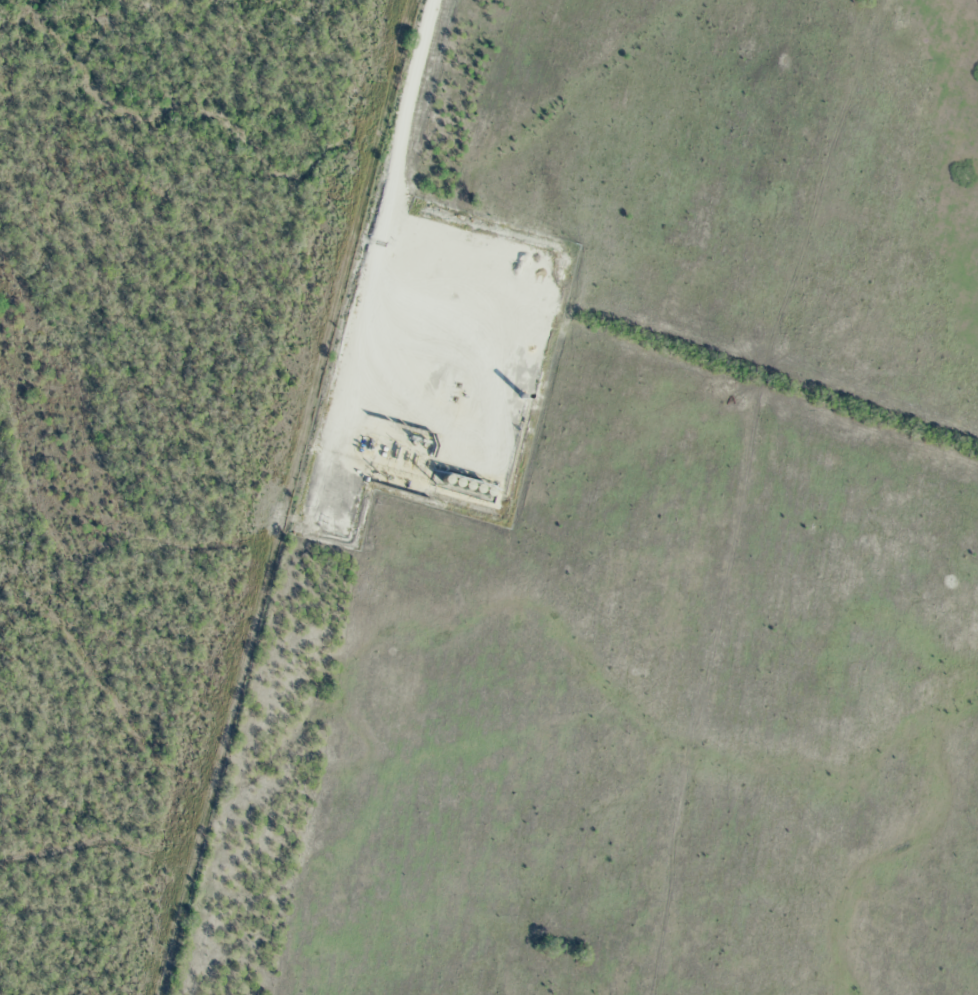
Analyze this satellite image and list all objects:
road: (838, 618)

